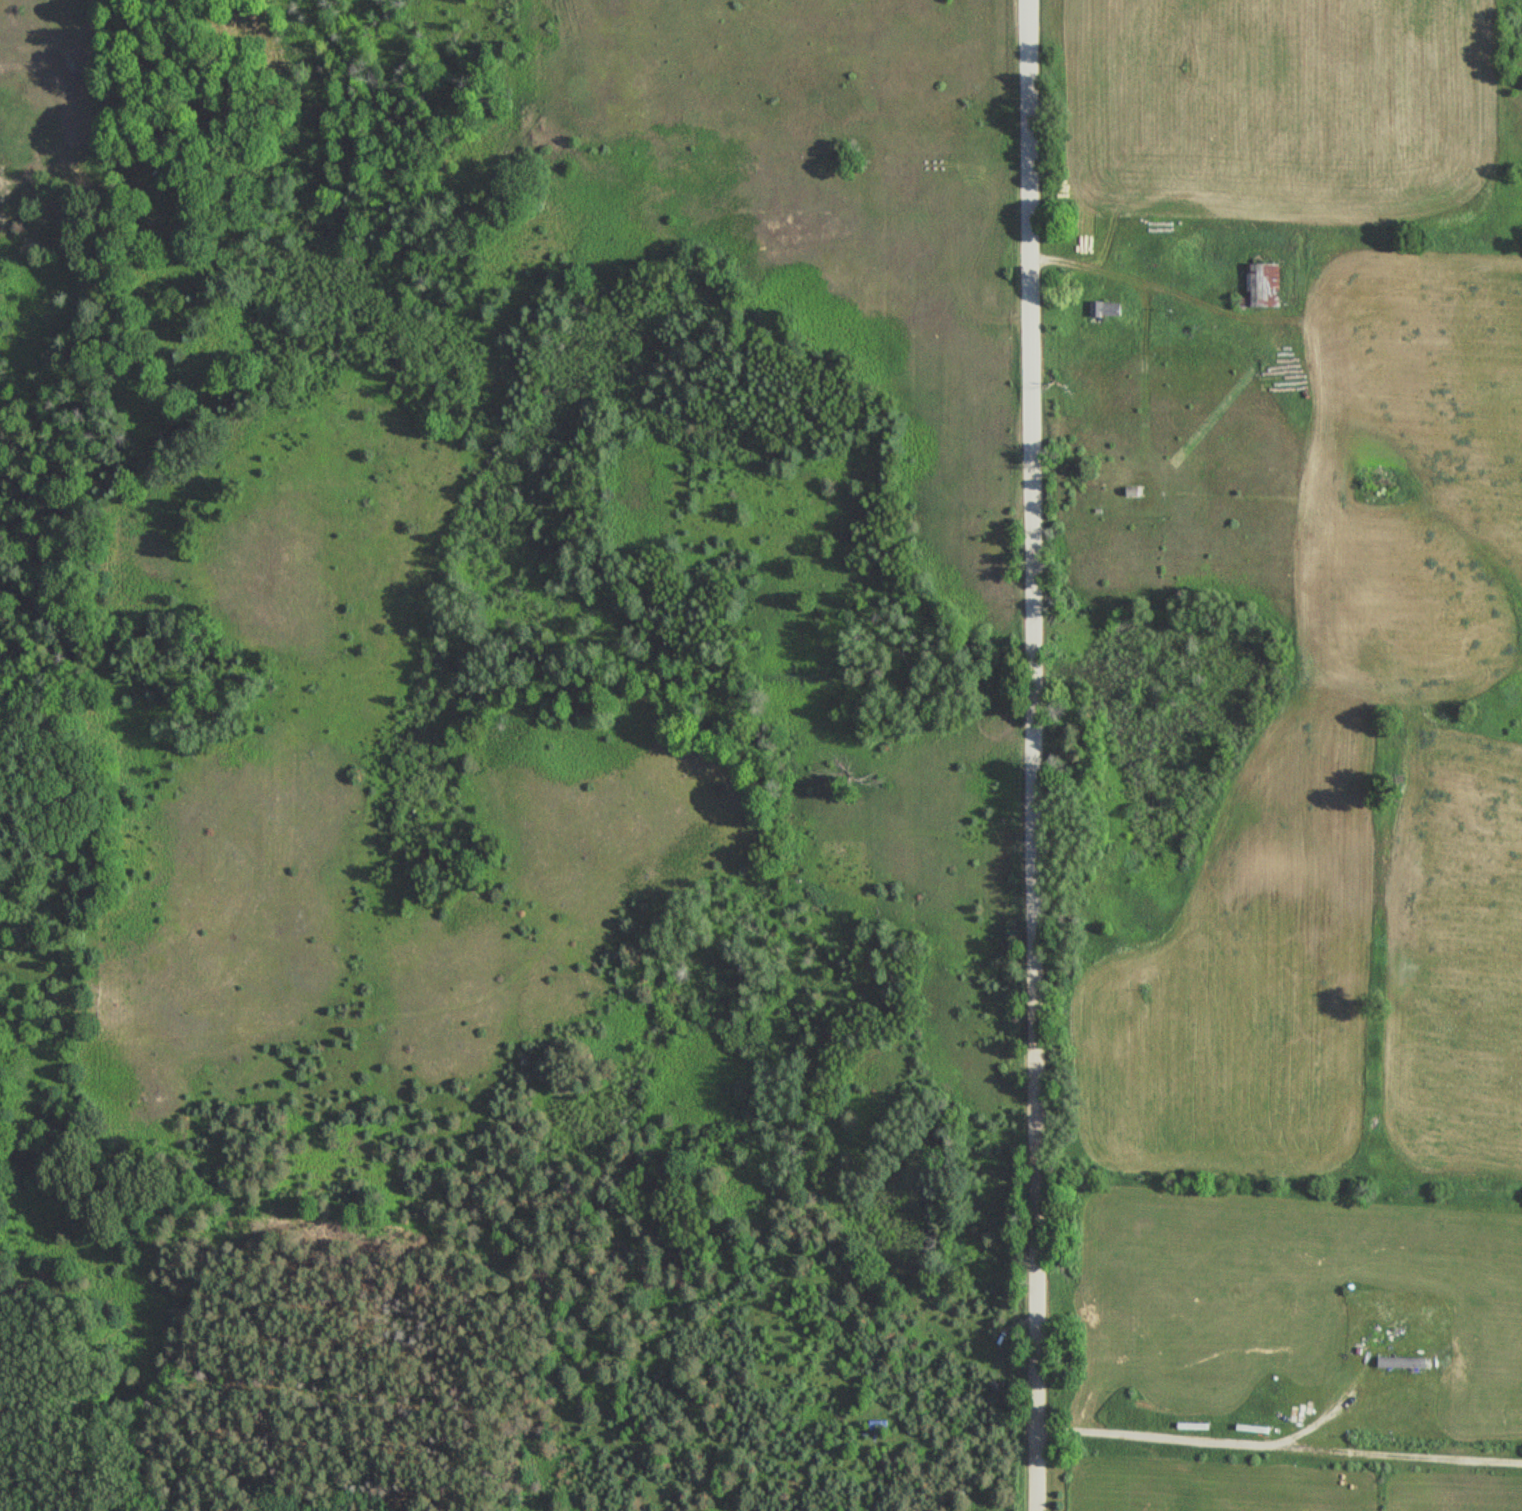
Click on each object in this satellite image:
building: (1264, 285)
building: (1108, 309)
road: (1031, 755)
building: (1404, 1363)

